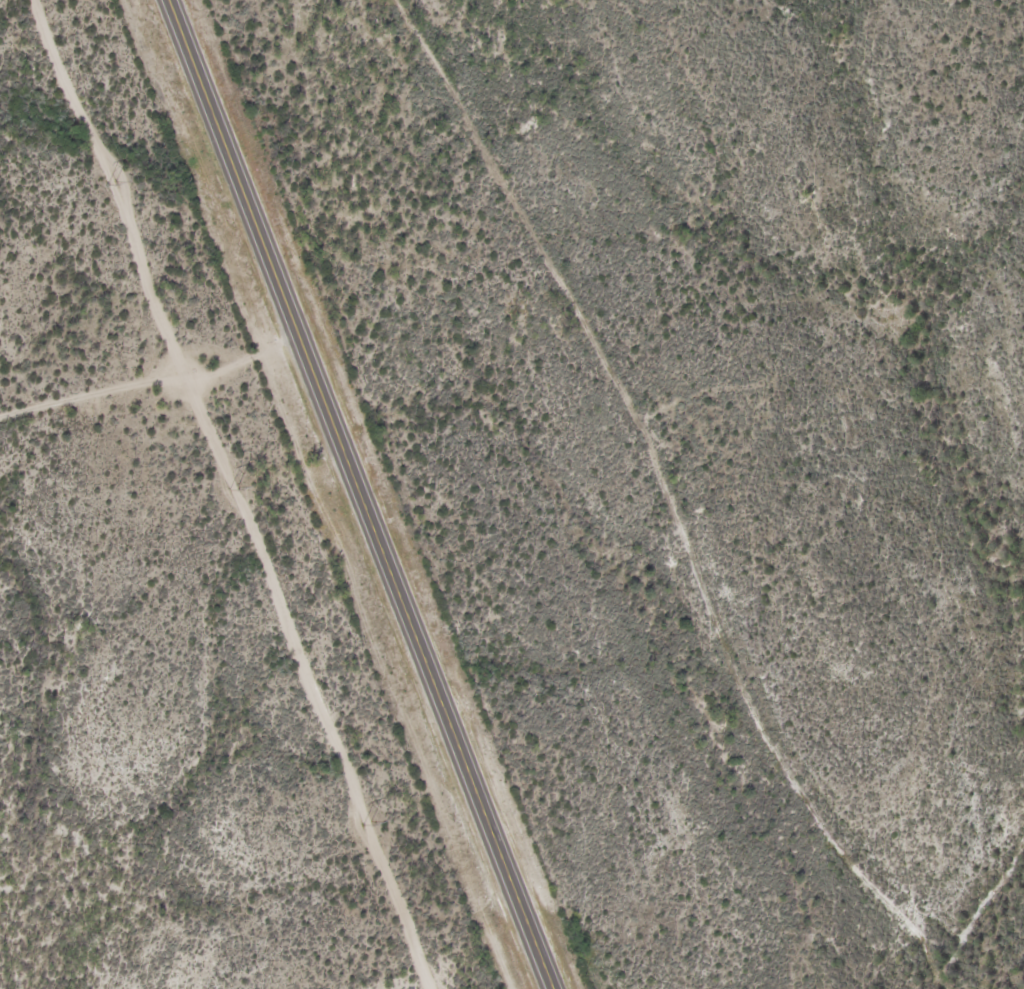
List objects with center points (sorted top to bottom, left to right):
power tower: (111, 185)
road: (150, 380)
power tower: (233, 490)
road: (359, 495)
road: (671, 499)
power tower: (367, 825)

